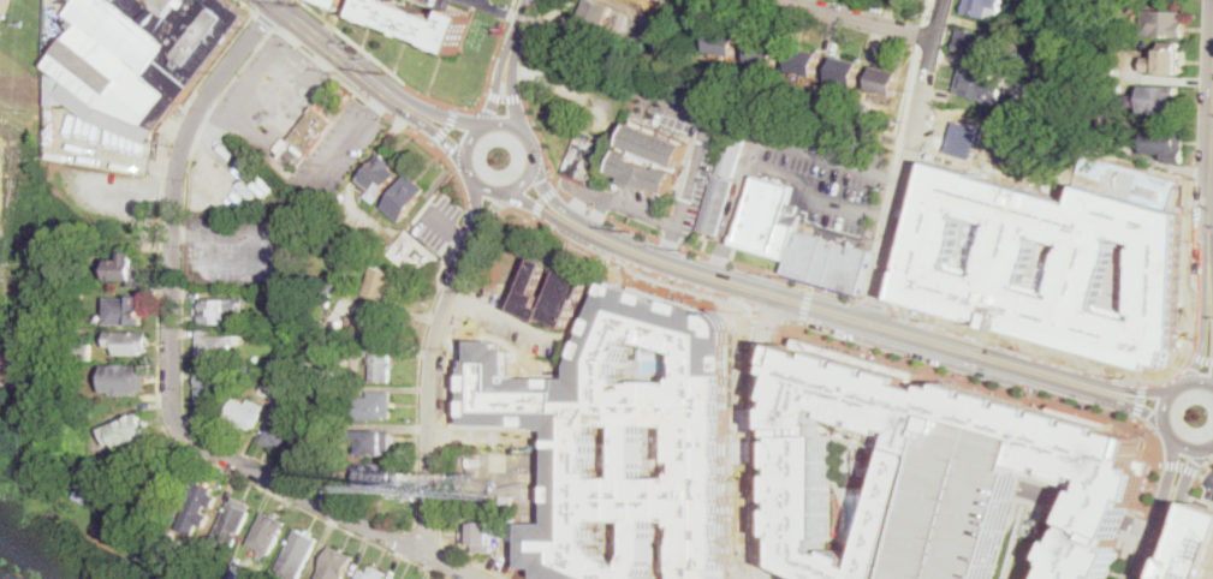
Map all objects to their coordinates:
building: (337, 2)
parking lot: (462, 4)
road: (480, 4)
road: (248, 5)
road: (511, 7)
road: (543, 8)
building: (983, 8)
road: (506, 13)
road: (266, 18)
road: (867, 18)
building: (420, 23)
building: (1164, 23)
building: (593, 25)
road: (518, 32)
road: (352, 41)
building: (725, 43)
building: (976, 43)
building: (143, 52)
building: (766, 52)
building: (620, 53)
road: (341, 56)
building: (1169, 60)
building: (805, 62)
building: (846, 71)
building: (888, 80)
building: (613, 82)
building: (981, 85)
parking lot: (268, 95)
road: (497, 95)
road: (505, 96)
road: (512, 97)
road: (482, 99)
building: (1156, 99)
road: (448, 118)
road: (446, 126)
road: (517, 126)
building: (311, 127)
road: (244, 129)
road: (442, 135)
road: (769, 138)
road: (959, 138)
road: (347, 141)
building: (283, 143)
road: (468, 143)
building: (1164, 144)
building: (658, 145)
parking lot: (337, 153)
road: (911, 155)
building: (587, 156)
parking lot: (702, 156)
building: (732, 156)
parking lot: (822, 172)
building: (646, 173)
road: (527, 177)
road: (897, 177)
building: (381, 178)
road: (691, 178)
road: (483, 186)
road: (805, 193)
building: (406, 197)
road: (543, 199)
parking lot: (102, 201)
building: (716, 204)
road: (477, 208)
road: (600, 208)
road: (490, 211)
road: (481, 215)
building: (769, 219)
road: (885, 220)
parking lot: (439, 221)
road: (620, 222)
road: (493, 226)
road: (448, 227)
road: (457, 237)
road: (670, 237)
road: (277, 240)
parking lot: (239, 246)
building: (382, 250)
road: (721, 253)
building: (415, 255)
road: (1211, 259)
building: (828, 261)
building: (1012, 265)
building: (127, 269)
building: (382, 283)
building: (327, 286)
building: (571, 287)
building: (292, 296)
road: (591, 297)
road: (464, 300)
road: (837, 300)
building: (323, 302)
road: (808, 304)
road: (873, 304)
building: (219, 309)
building: (126, 311)
road: (1211, 311)
road: (836, 316)
road: (524, 327)
building: (371, 329)
road: (182, 333)
building: (313, 338)
building: (130, 342)
road: (1197, 345)
building: (215, 346)
building: (83, 351)
road: (1199, 354)
building: (382, 366)
road: (157, 369)
road: (1108, 370)
road: (171, 371)
building: (251, 372)
building: (448, 377)
building: (126, 378)
building: (358, 381)
road: (1199, 381)
road: (1013, 383)
building: (210, 384)
road: (1179, 387)
building: (322, 389)
road: (430, 390)
road: (1138, 399)
building: (369, 406)
road: (1165, 408)
building: (245, 413)
road: (761, 419)
building: (280, 429)
building: (512, 429)
building: (577, 429)
parking lot: (577, 429)
building: (129, 431)
road: (458, 432)
building: (374, 442)
road: (1187, 447)
road: (779, 452)
road: (748, 456)
building: (1093, 456)
building: (474, 462)
building: (329, 464)
road: (1172, 465)
road: (1181, 466)
road: (1187, 468)
building: (377, 476)
road: (1209, 477)
building: (162, 482)
parking lot: (1208, 483)
building: (88, 494)
road: (1052, 496)
building: (507, 500)
building: (970, 500)
parking lot: (970, 500)
building: (197, 503)
building: (481, 505)
road: (1105, 512)
road: (1166, 513)
road: (1179, 517)
building: (232, 519)
road: (1143, 525)
road: (1138, 526)
building: (156, 532)
building: (268, 533)
building: (494, 533)
road: (423, 535)
building: (171, 539)
road: (399, 539)
building: (1197, 548)
railway: (47, 553)
building: (298, 554)
road: (436, 555)
road: (1150, 555)
road: (1124, 556)
railway: (34, 559)
road: (761, 561)
road: (767, 561)
building: (337, 565)
building: (228, 569)
building: (373, 573)
building: (240, 574)
parking lot: (4, 575)

